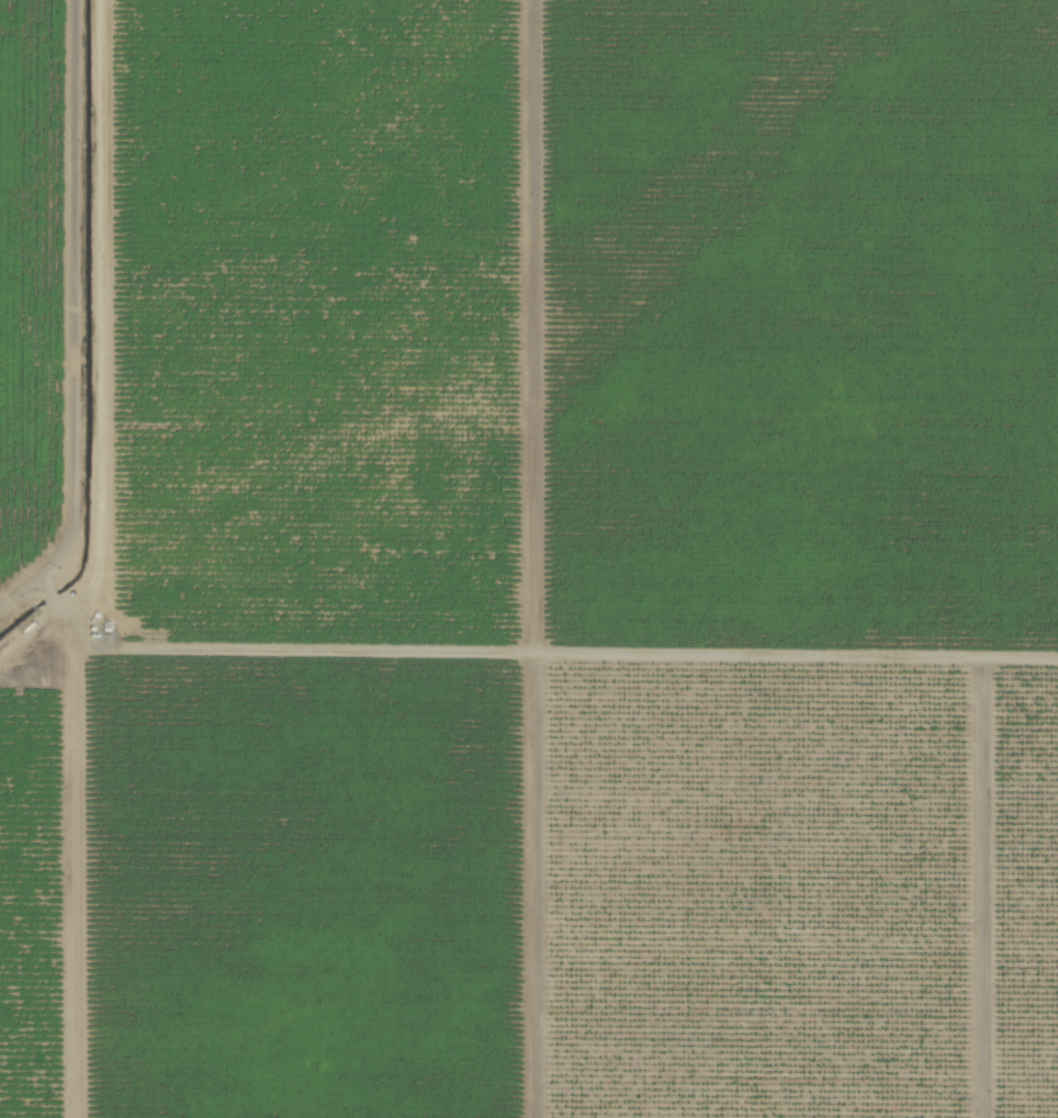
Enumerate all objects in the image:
crop: (529, 558)

